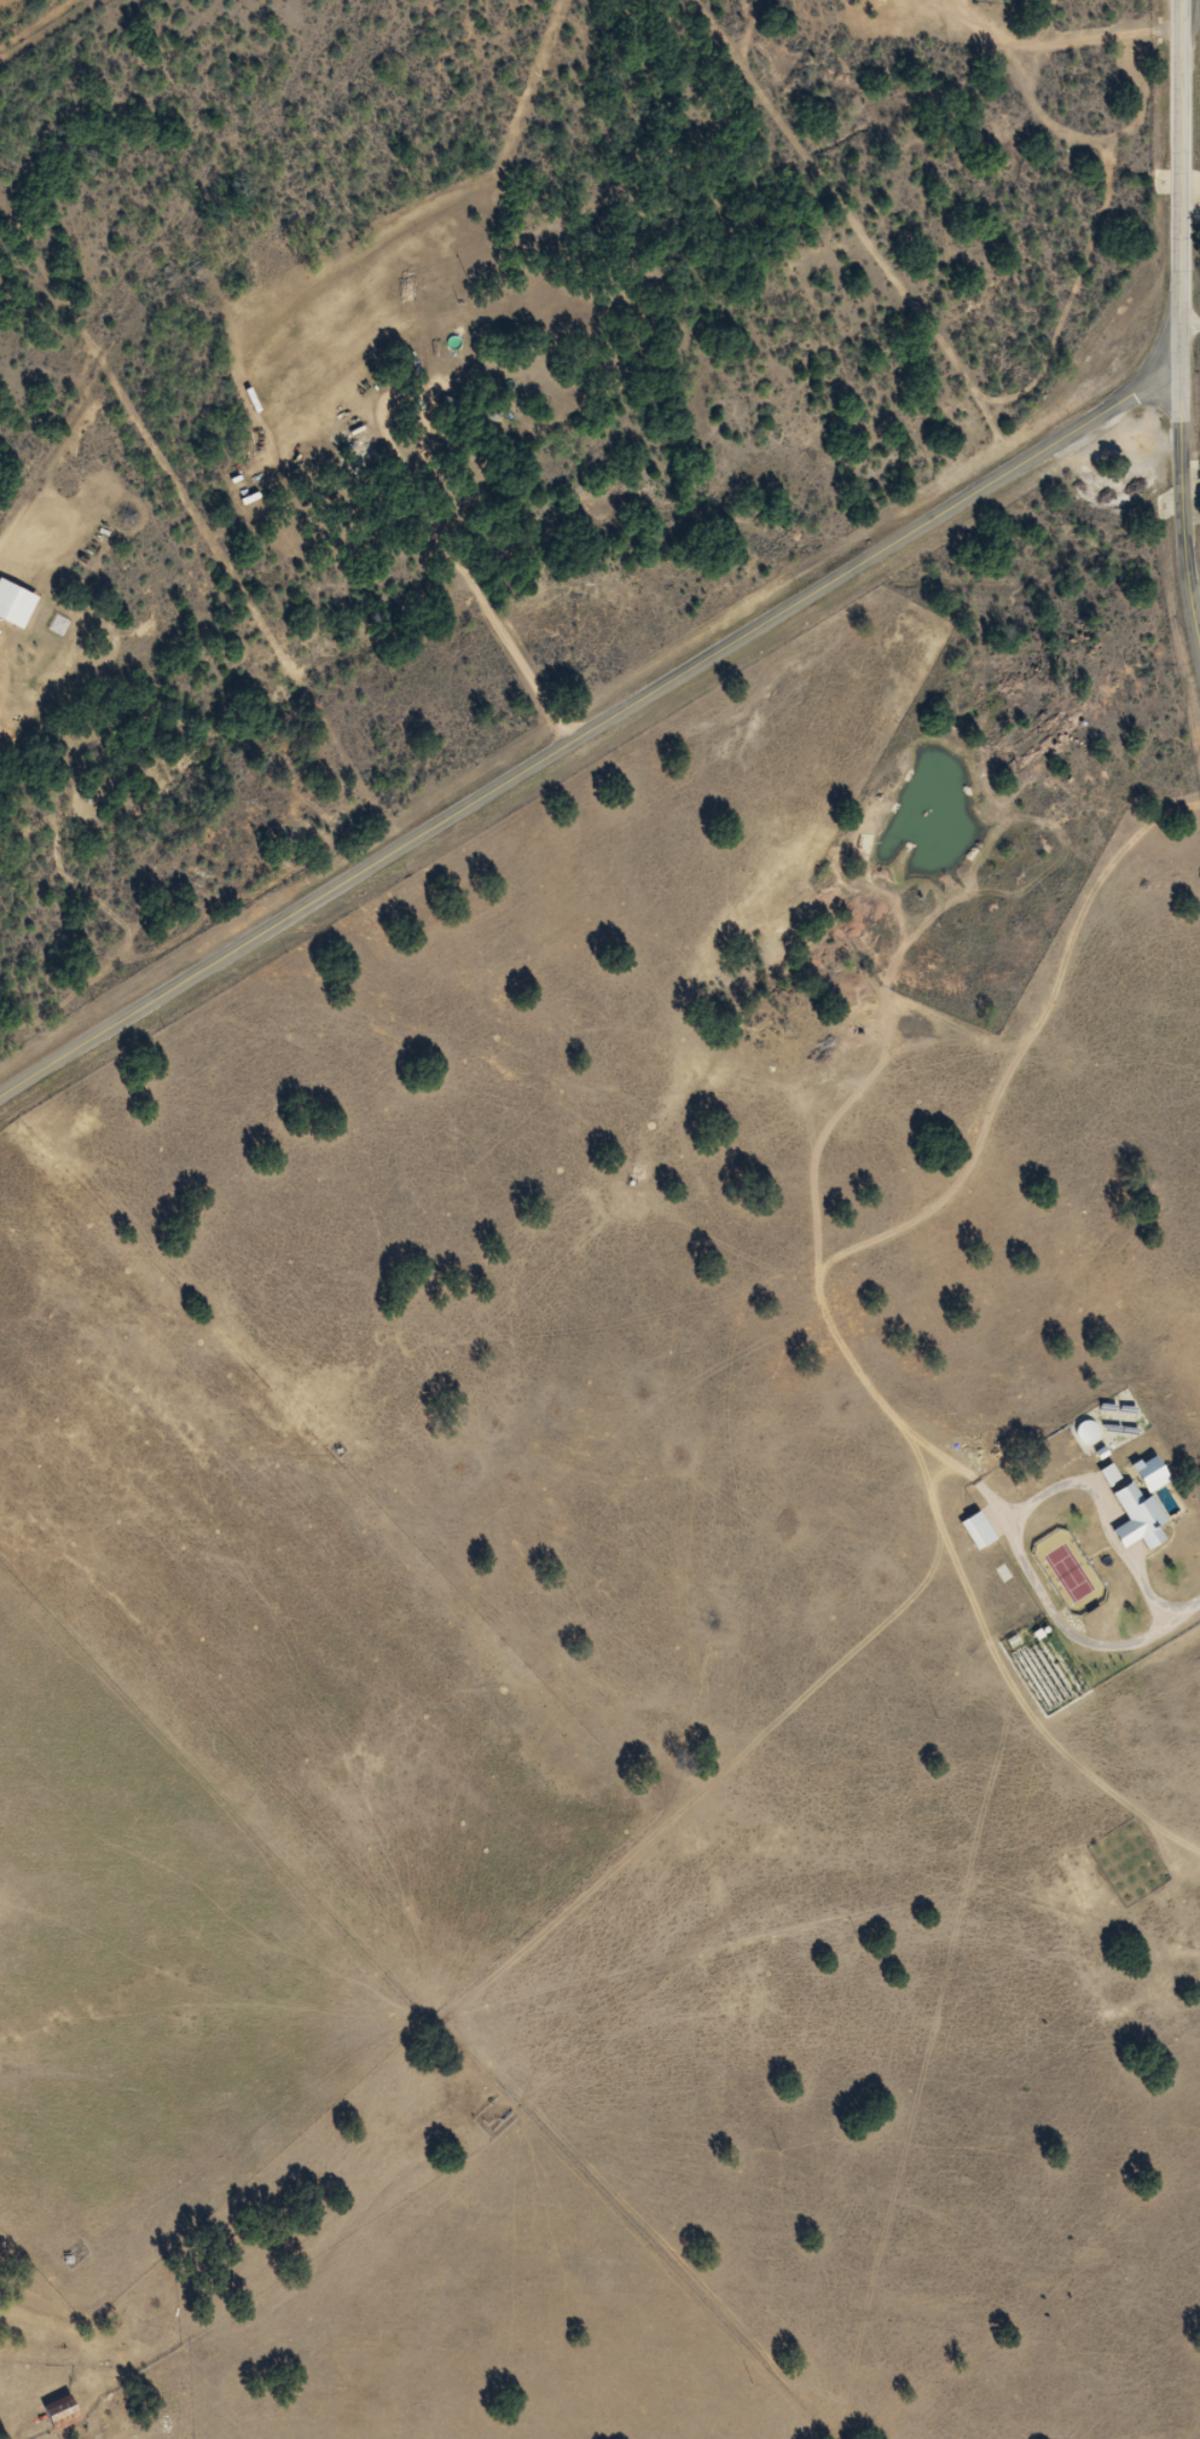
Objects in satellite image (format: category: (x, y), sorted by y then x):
road: (168, 259)
road: (1181, 320)
road: (590, 732)
building: (1136, 1519)
building: (59, 2416)

